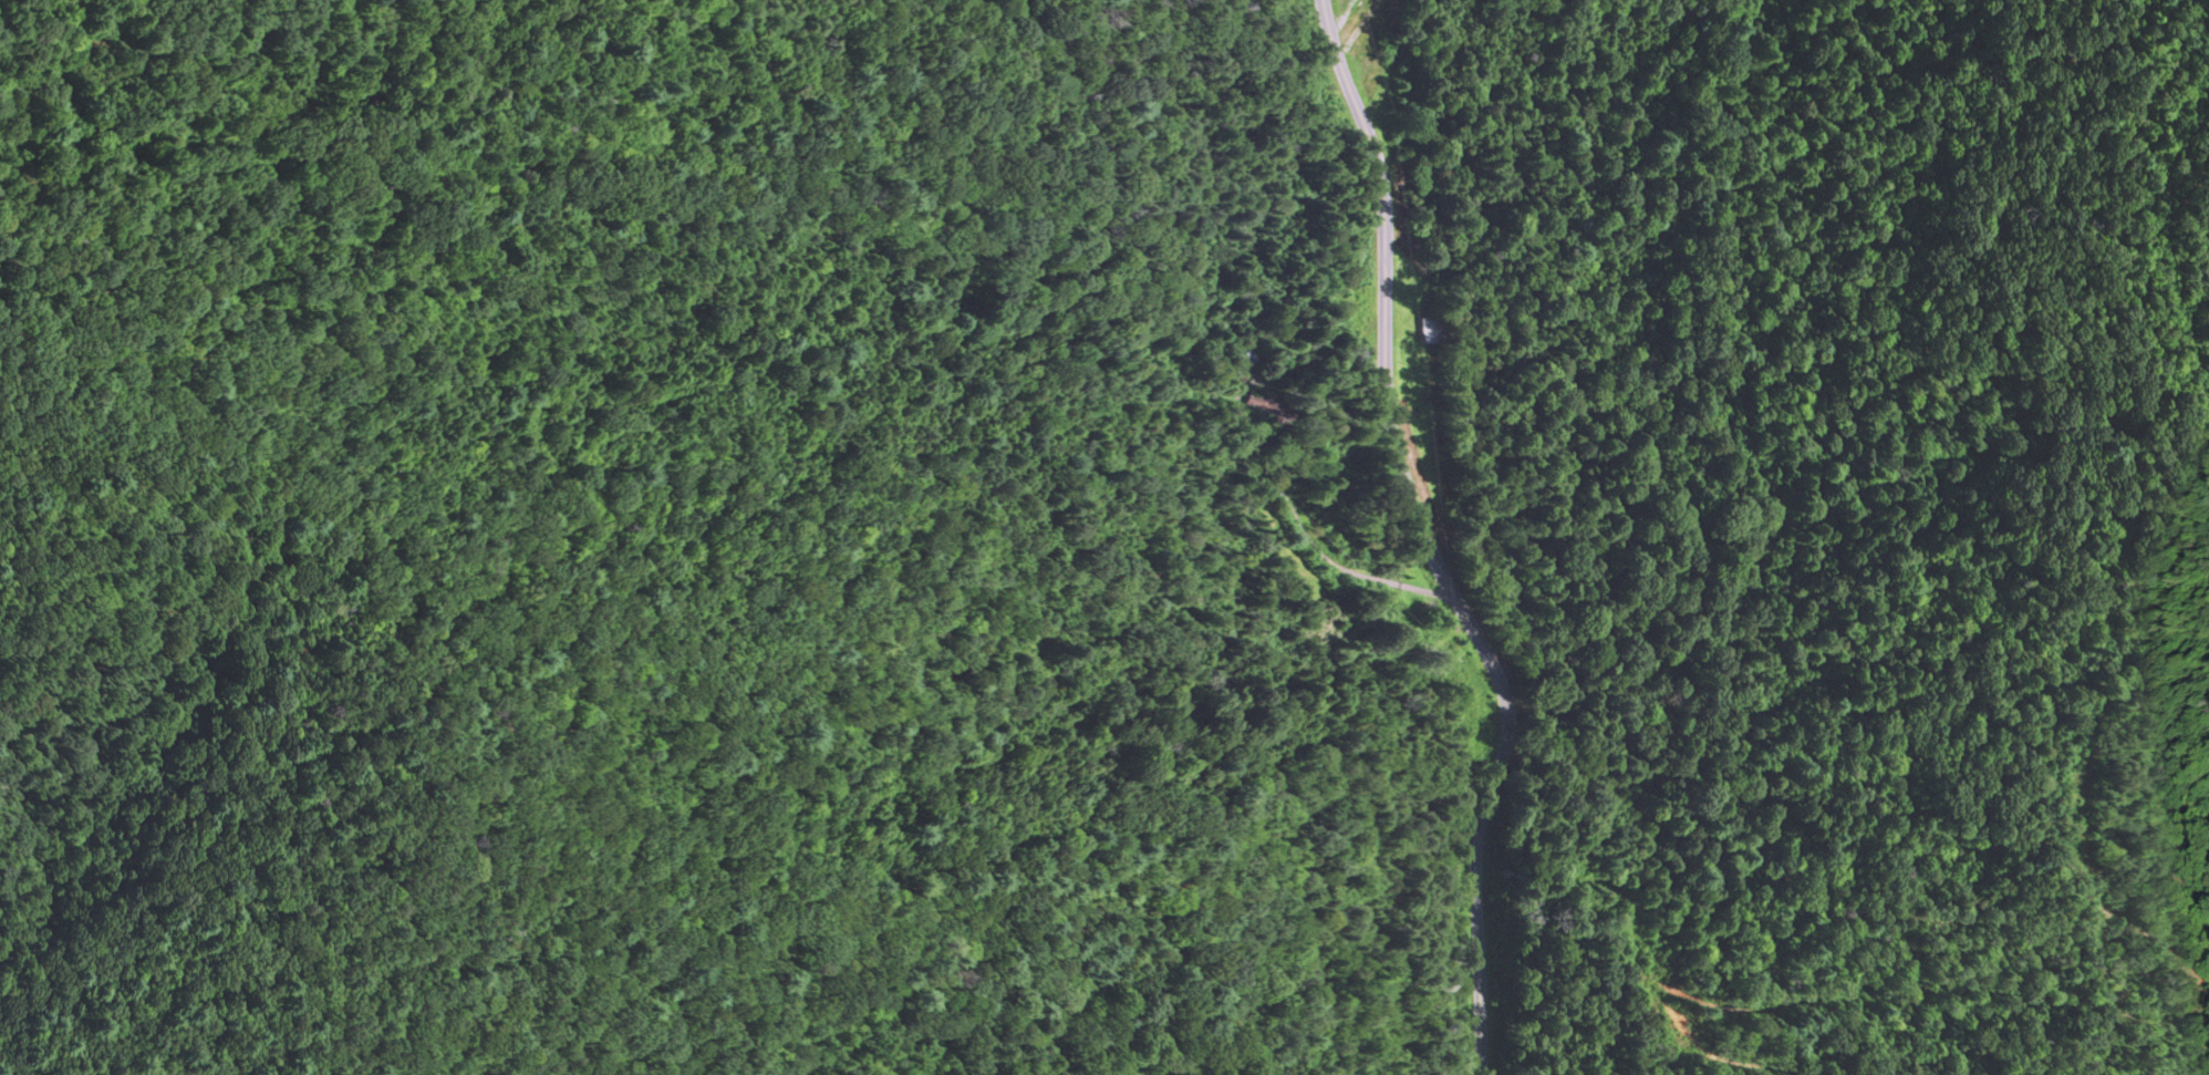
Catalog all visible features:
building: (1238, 359)
building: (1259, 406)
road: (1409, 538)

